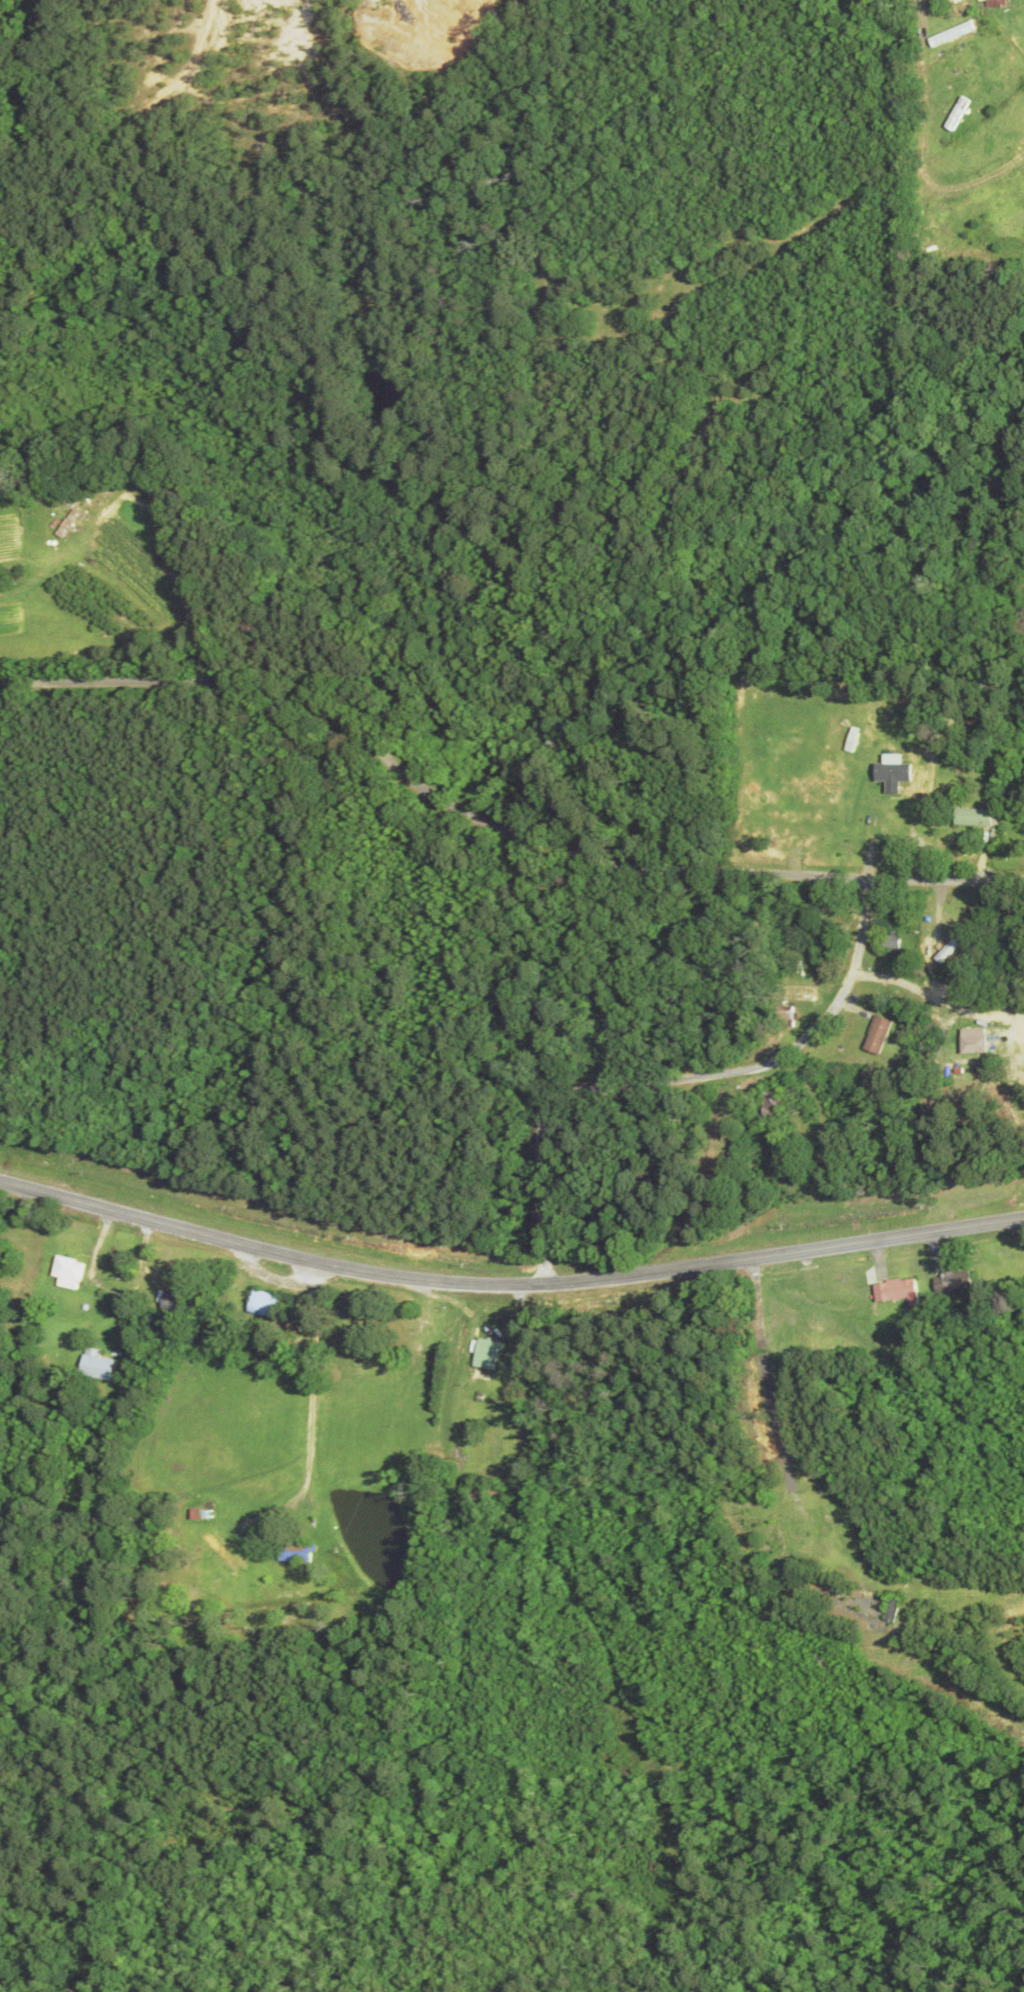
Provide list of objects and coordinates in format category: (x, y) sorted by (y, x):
building: (1001, 4)
building: (977, 818)
road: (493, 841)
building: (892, 940)
building: (805, 993)
building: (881, 1035)
building: (980, 1042)
road: (679, 1090)
building: (777, 1104)
building: (70, 1273)
building: (956, 1281)
road: (508, 1284)
building: (899, 1291)
building: (178, 1302)
building: (267, 1303)
building: (490, 1354)
building: (100, 1368)
road: (768, 1375)
road: (314, 1408)
building: (488, 1493)
building: (780, 1531)
building: (223, 1552)
building: (298, 1553)

